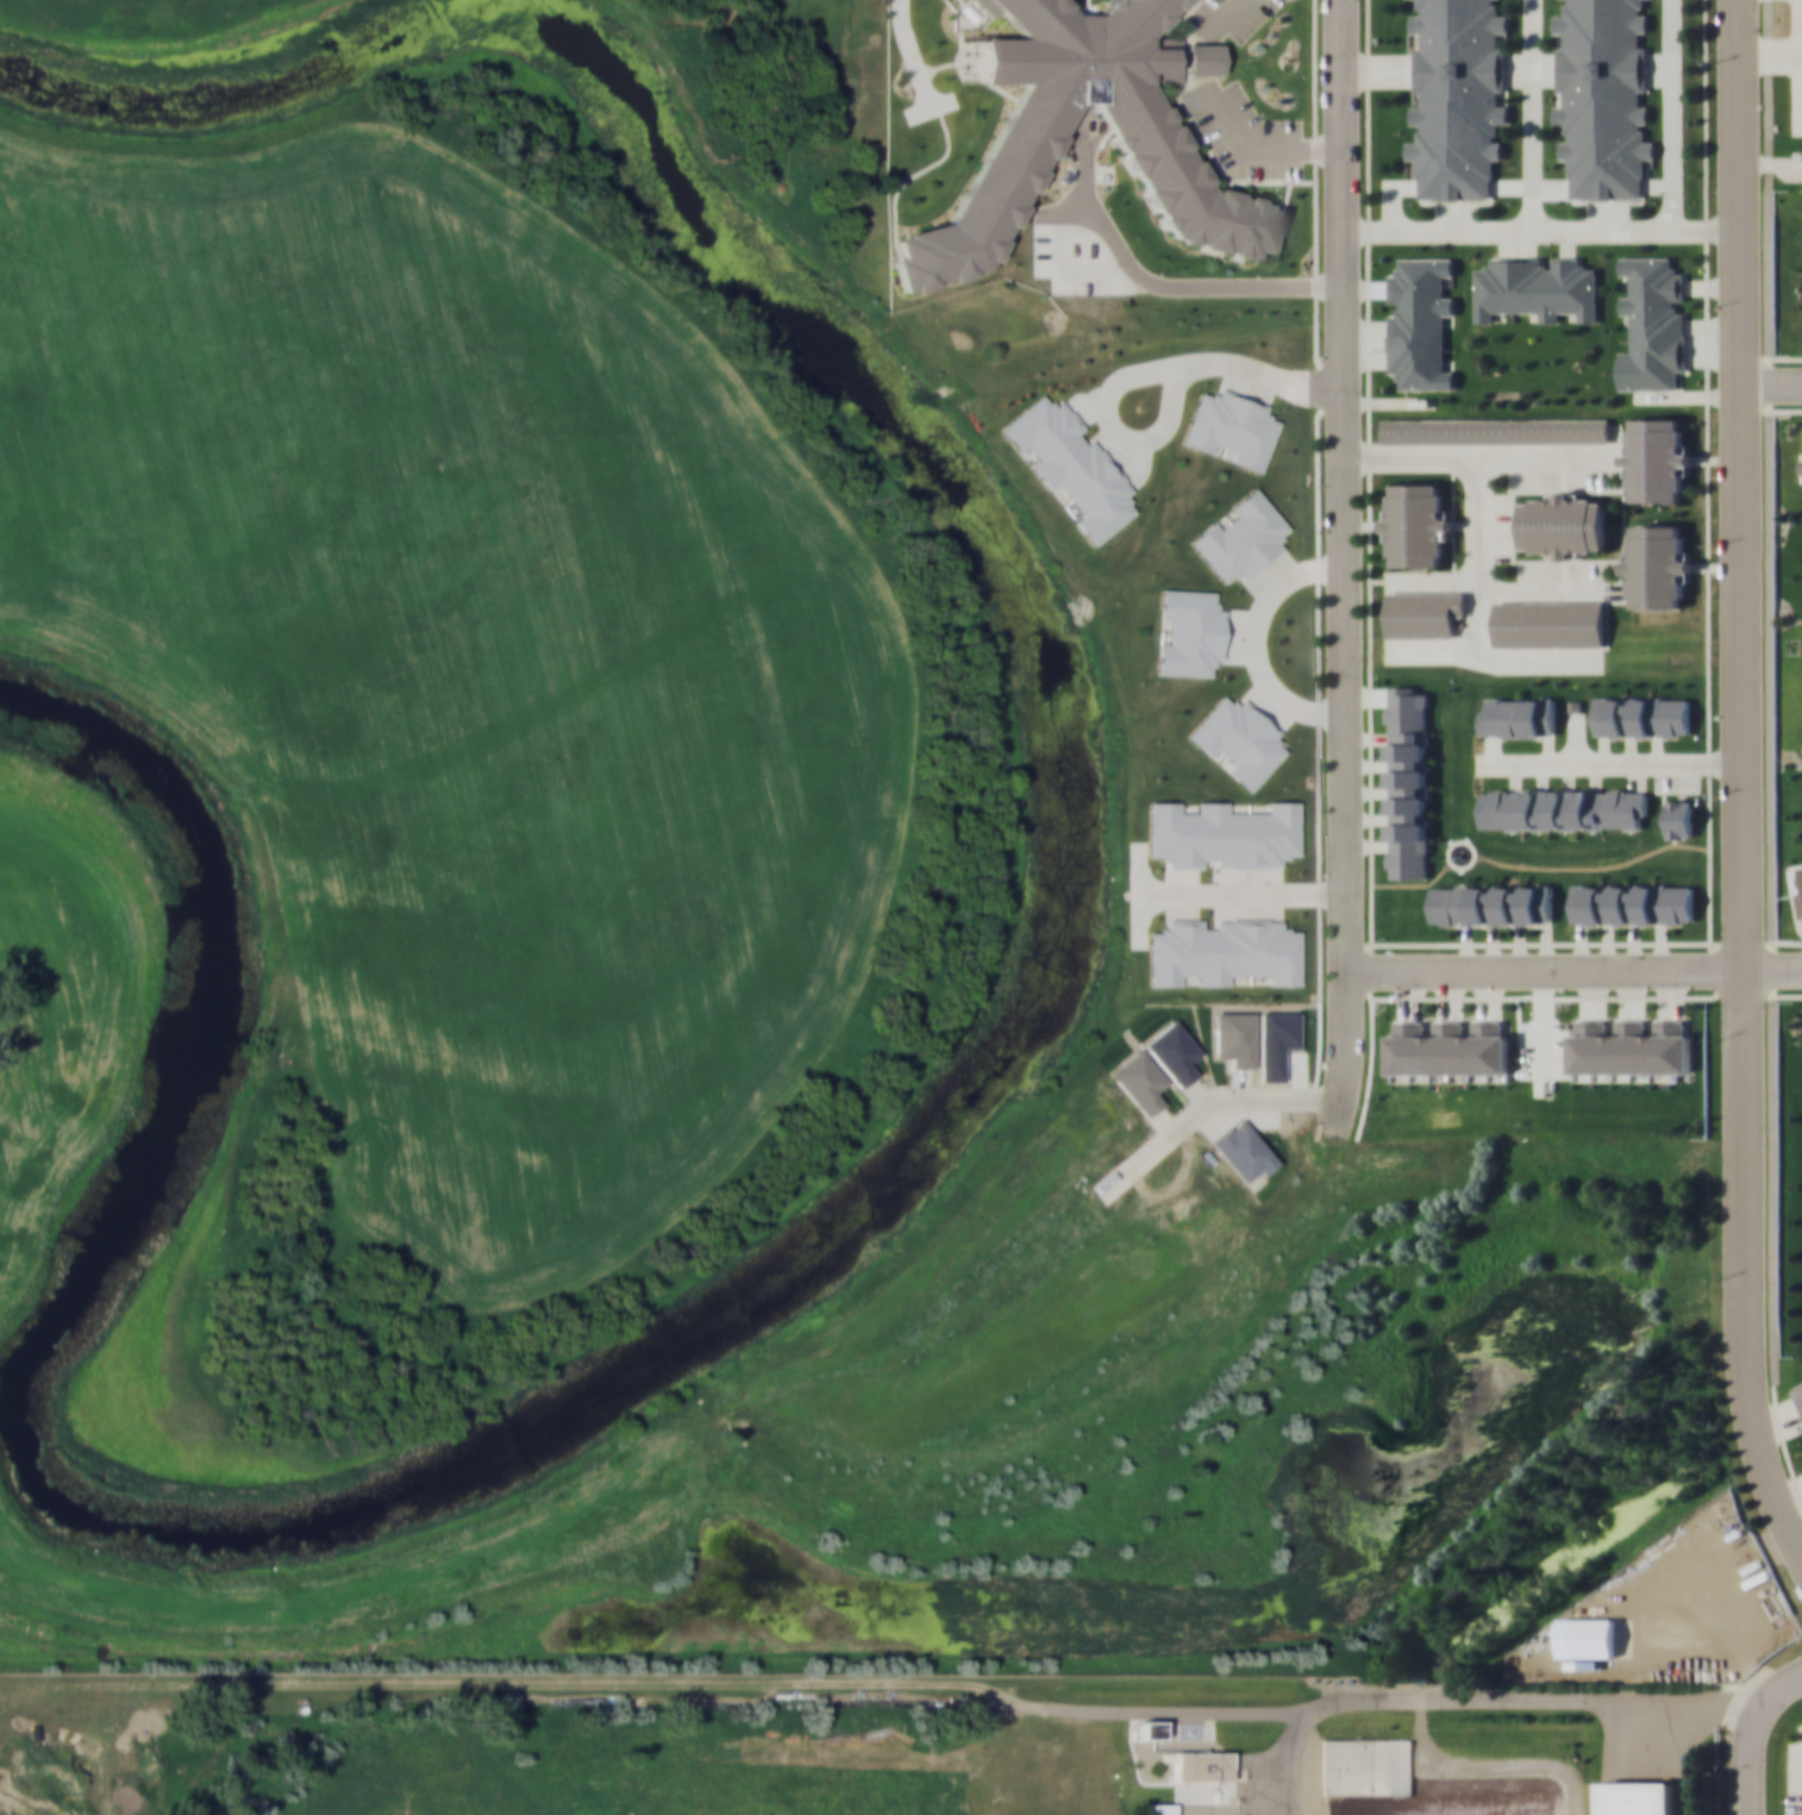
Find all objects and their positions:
building: (1324, 21)
building: (1201, 58)
building: (1602, 95)
building: (1457, 96)
building: (1130, 114)
building: (1534, 287)
building: (1419, 323)
building: (1652, 323)
road: (1770, 383)
building: (1495, 430)
building: (1656, 458)
building: (1563, 524)
building: (1415, 525)
building: (1656, 565)
road: (1344, 570)
building: (1421, 612)
building: (1548, 622)
building: (1641, 715)
building: (1518, 716)
building: (1408, 781)
road: (1741, 788)
building: (1563, 807)
building: (1678, 818)
building: (1800, 901)
building: (1632, 902)
building: (1491, 903)
road: (1545, 968)
road: (1772, 968)
road: (1203, 1099)
building: (1800, 1390)
building: (1594, 1638)
road: (1748, 1732)
building: (1366, 1765)
building: (1200, 1766)
building: (1637, 1797)
building: (1158, 1808)

